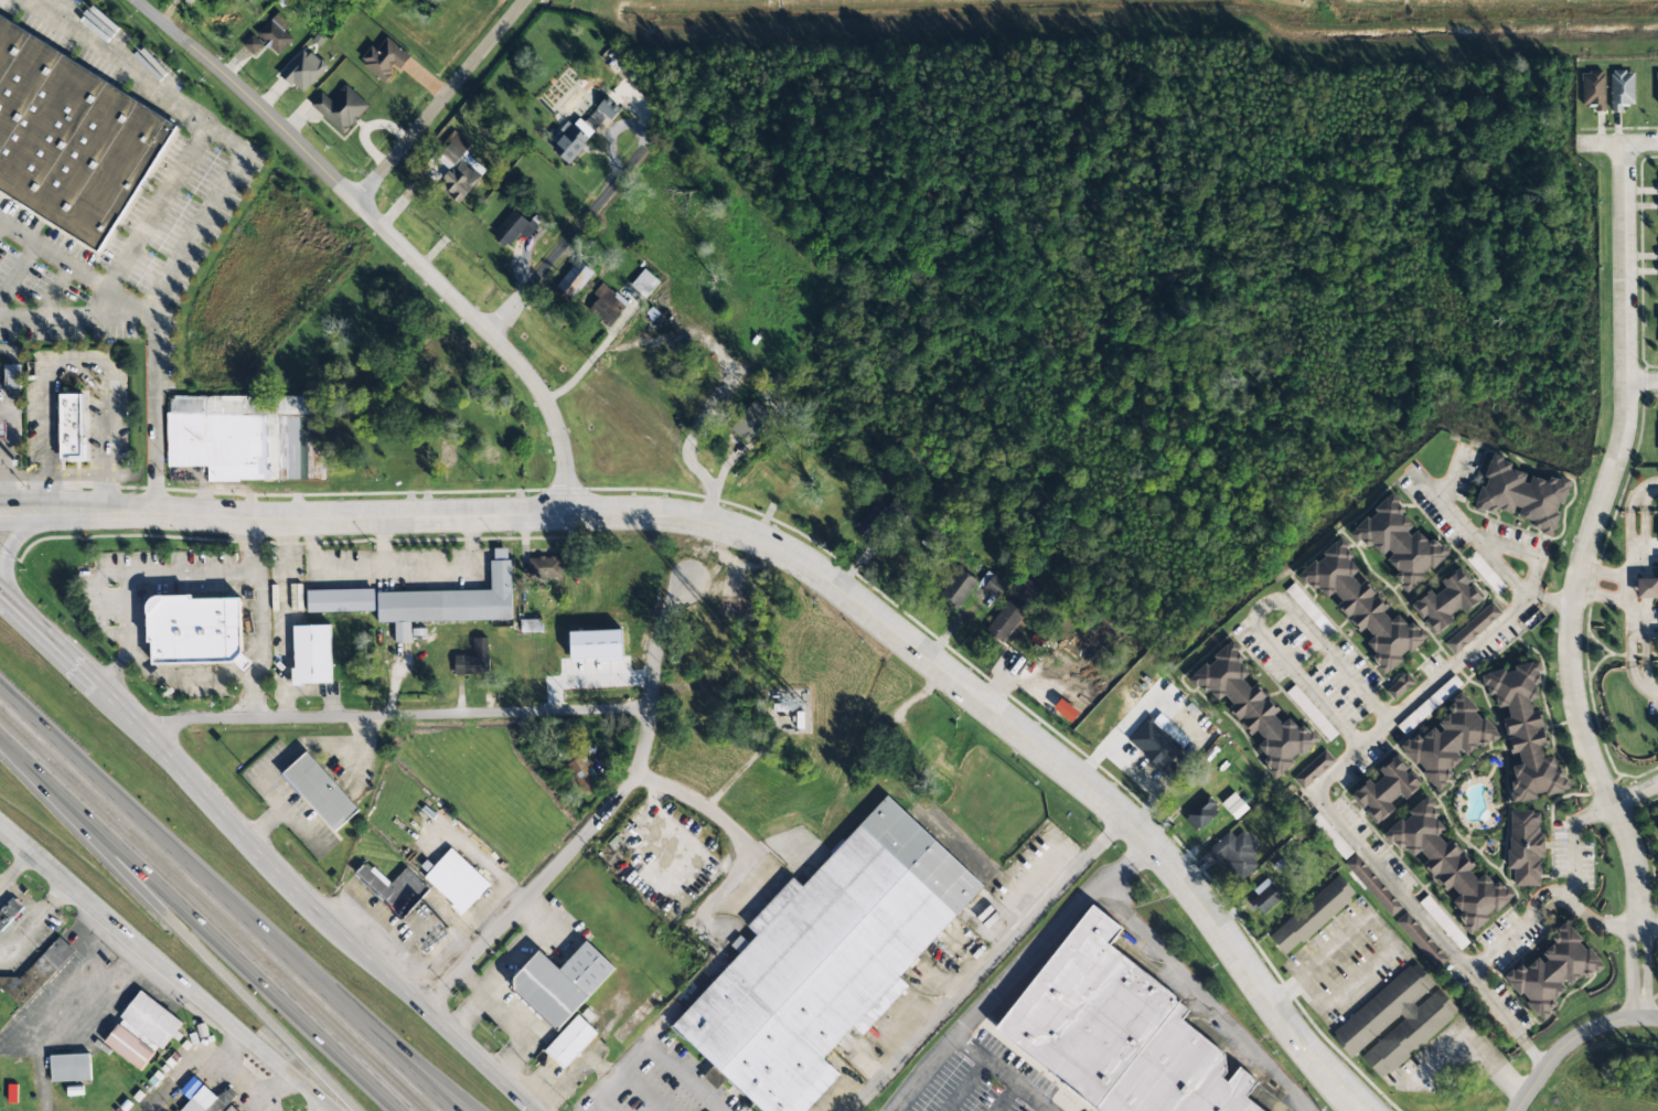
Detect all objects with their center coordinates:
building: (270, 36)
building: (384, 58)
building: (303, 70)
building: (1657, 86)
building: (1593, 89)
building: (1620, 89)
road: (440, 102)
building: (340, 107)
building: (585, 128)
building: (72, 139)
road: (1639, 141)
road: (1598, 142)
building: (452, 167)
parking lot: (103, 183)
building: (511, 228)
road: (385, 233)
road: (561, 269)
road: (74, 271)
building: (575, 278)
building: (644, 284)
building: (609, 309)
road: (149, 342)
building: (1657, 344)
building: (448, 355)
building: (13, 376)
road: (75, 378)
road: (1641, 381)
road: (11, 402)
parking lot: (75, 412)
building: (750, 420)
building: (71, 425)
parking lot: (9, 427)
building: (3, 429)
building: (247, 436)
building: (447, 451)
building: (491, 455)
road: (52, 477)
building: (1525, 494)
road: (0, 505)
building: (883, 515)
road: (278, 521)
road: (1468, 534)
road: (1590, 536)
building: (1402, 544)
road: (2, 546)
building: (545, 568)
road: (146, 575)
building: (959, 587)
building: (994, 587)
building: (453, 599)
building: (340, 600)
building: (1450, 601)
building: (1363, 608)
road: (1261, 610)
parking lot: (182, 618)
building: (1007, 619)
building: (1319, 620)
building: (530, 626)
building: (1473, 628)
building: (196, 630)
building: (596, 644)
road: (258, 645)
building: (312, 654)
building: (472, 659)
road: (179, 675)
building: (1400, 686)
building: (1429, 704)
building: (1252, 709)
road: (395, 716)
road: (1007, 722)
building: (1528, 733)
building: (1451, 740)
building: (1164, 745)
building: (1314, 769)
building: (582, 773)
building: (1388, 789)
building: (321, 791)
road: (1635, 794)
road: (1328, 802)
building: (1234, 805)
building: (1201, 813)
road: (599, 821)
building: (1657, 822)
building: (1329, 834)
building: (1527, 848)
road: (263, 852)
building: (1236, 853)
building: (1451, 866)
building: (456, 880)
building: (1372, 885)
building: (395, 888)
building: (1266, 898)
road: (222, 901)
road: (1542, 901)
building: (9, 912)
building: (1313, 915)
road: (169, 918)
road: (202, 920)
road: (1648, 923)
road: (1641, 930)
building: (1420, 939)
road: (1629, 939)
road: (175, 955)
building: (827, 959)
building: (1555, 972)
building: (36, 973)
road: (1646, 979)
building: (563, 983)
road: (1630, 990)
building: (151, 1019)
building: (1395, 1021)
building: (1117, 1033)
road: (385, 1039)
building: (571, 1041)
road: (1575, 1041)
building: (130, 1047)
building: (71, 1067)
building: (186, 1090)
building: (206, 1100)
road: (1351, 1104)
road: (327, 1105)

